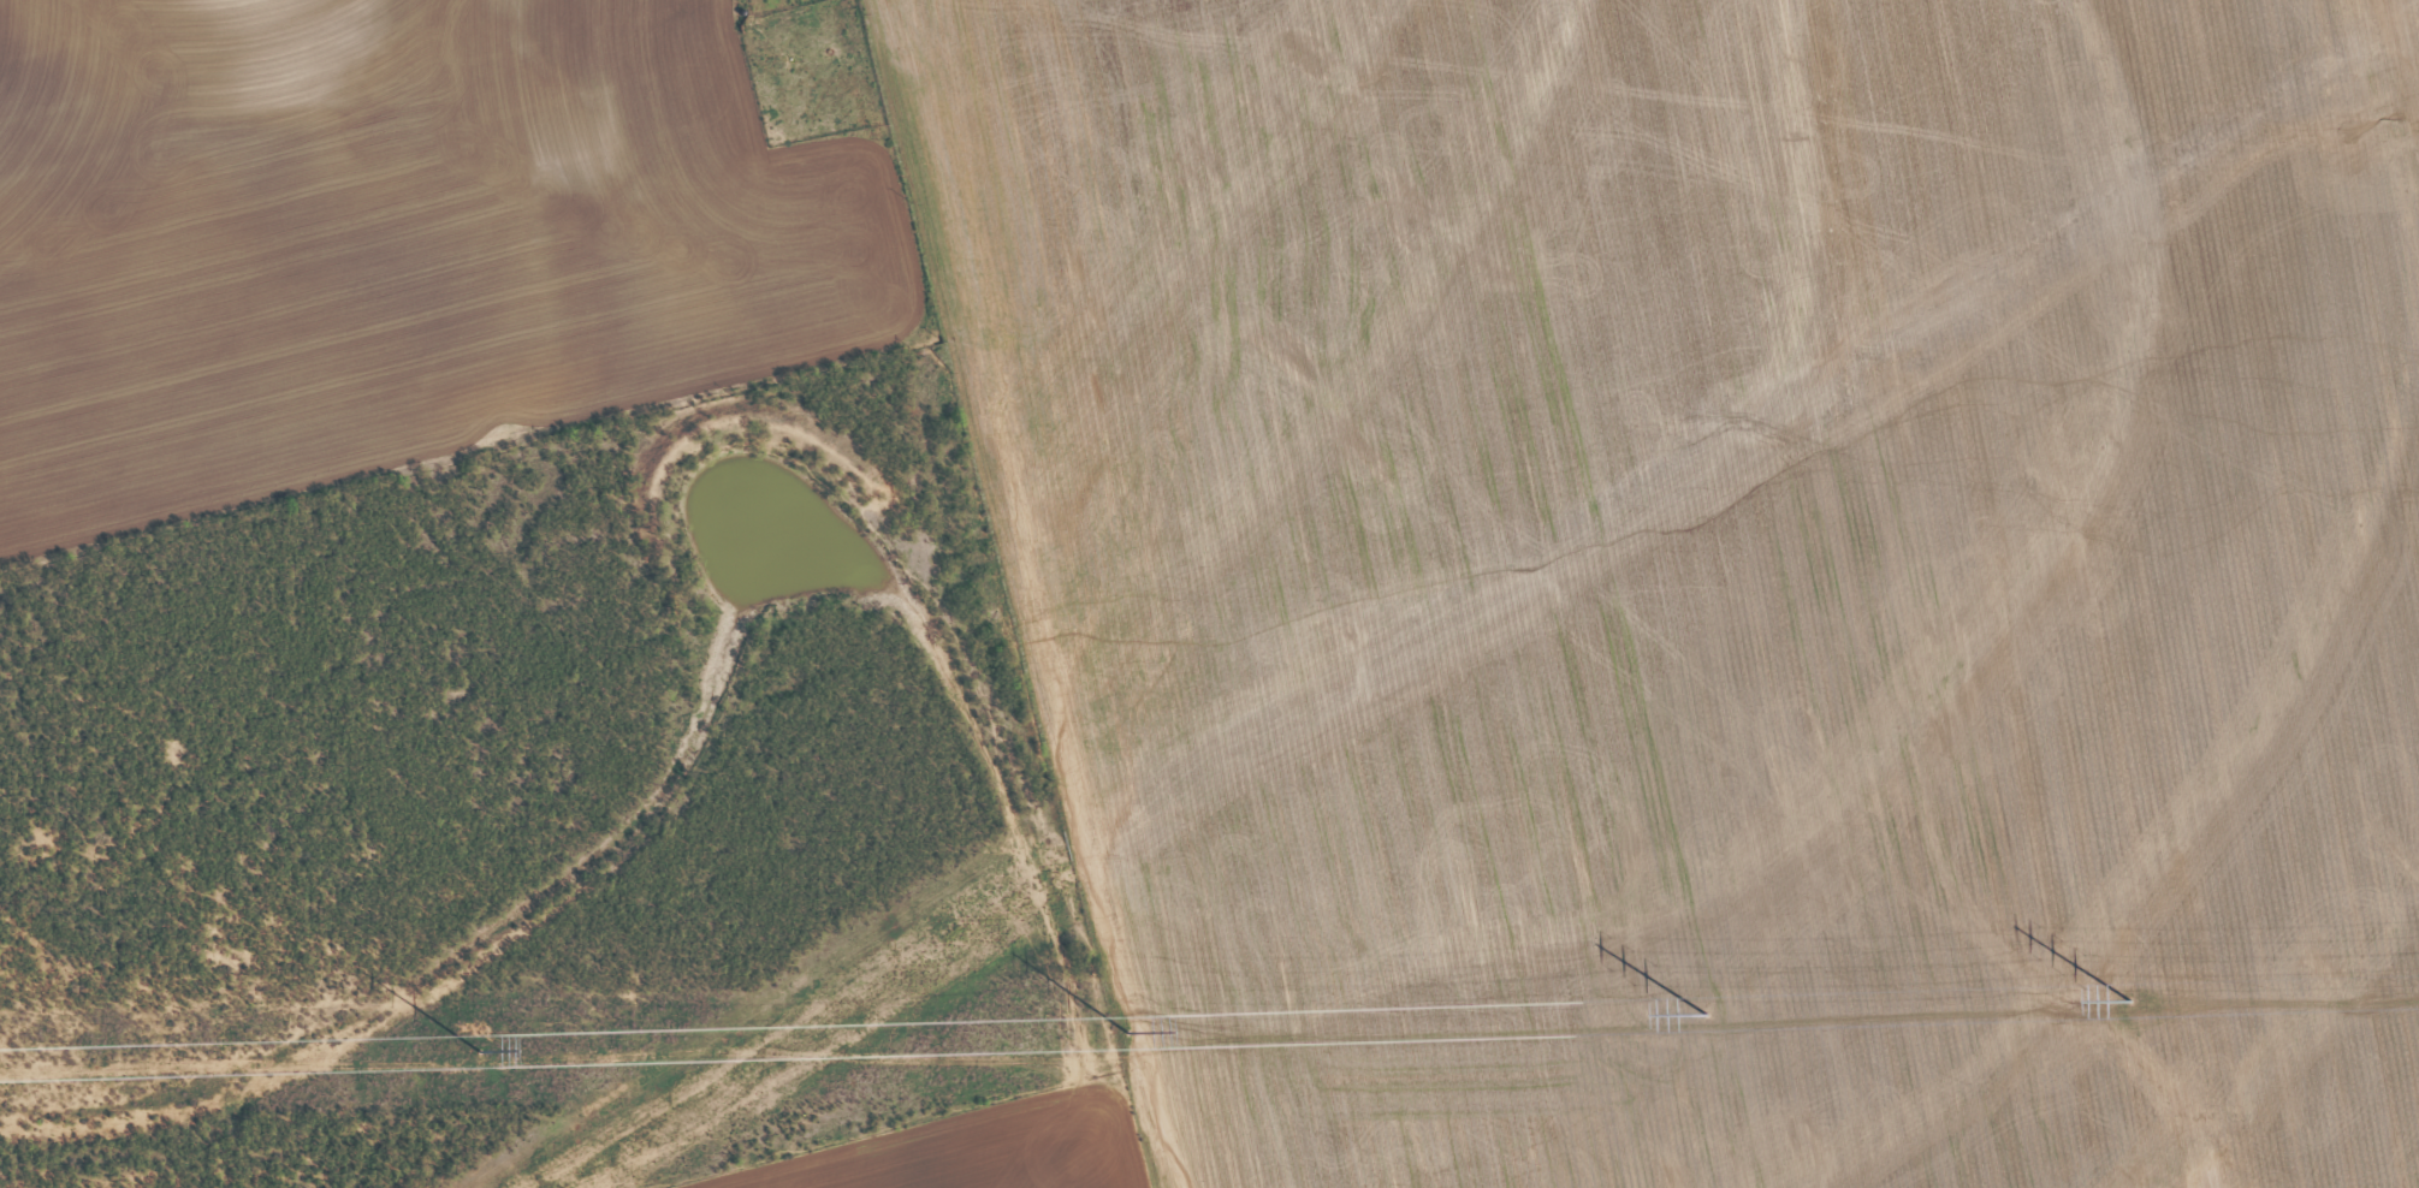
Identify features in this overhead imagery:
power tower: (2132, 999)
power tower: (1707, 1014)
power tower: (1127, 1032)
power tower: (478, 1050)

